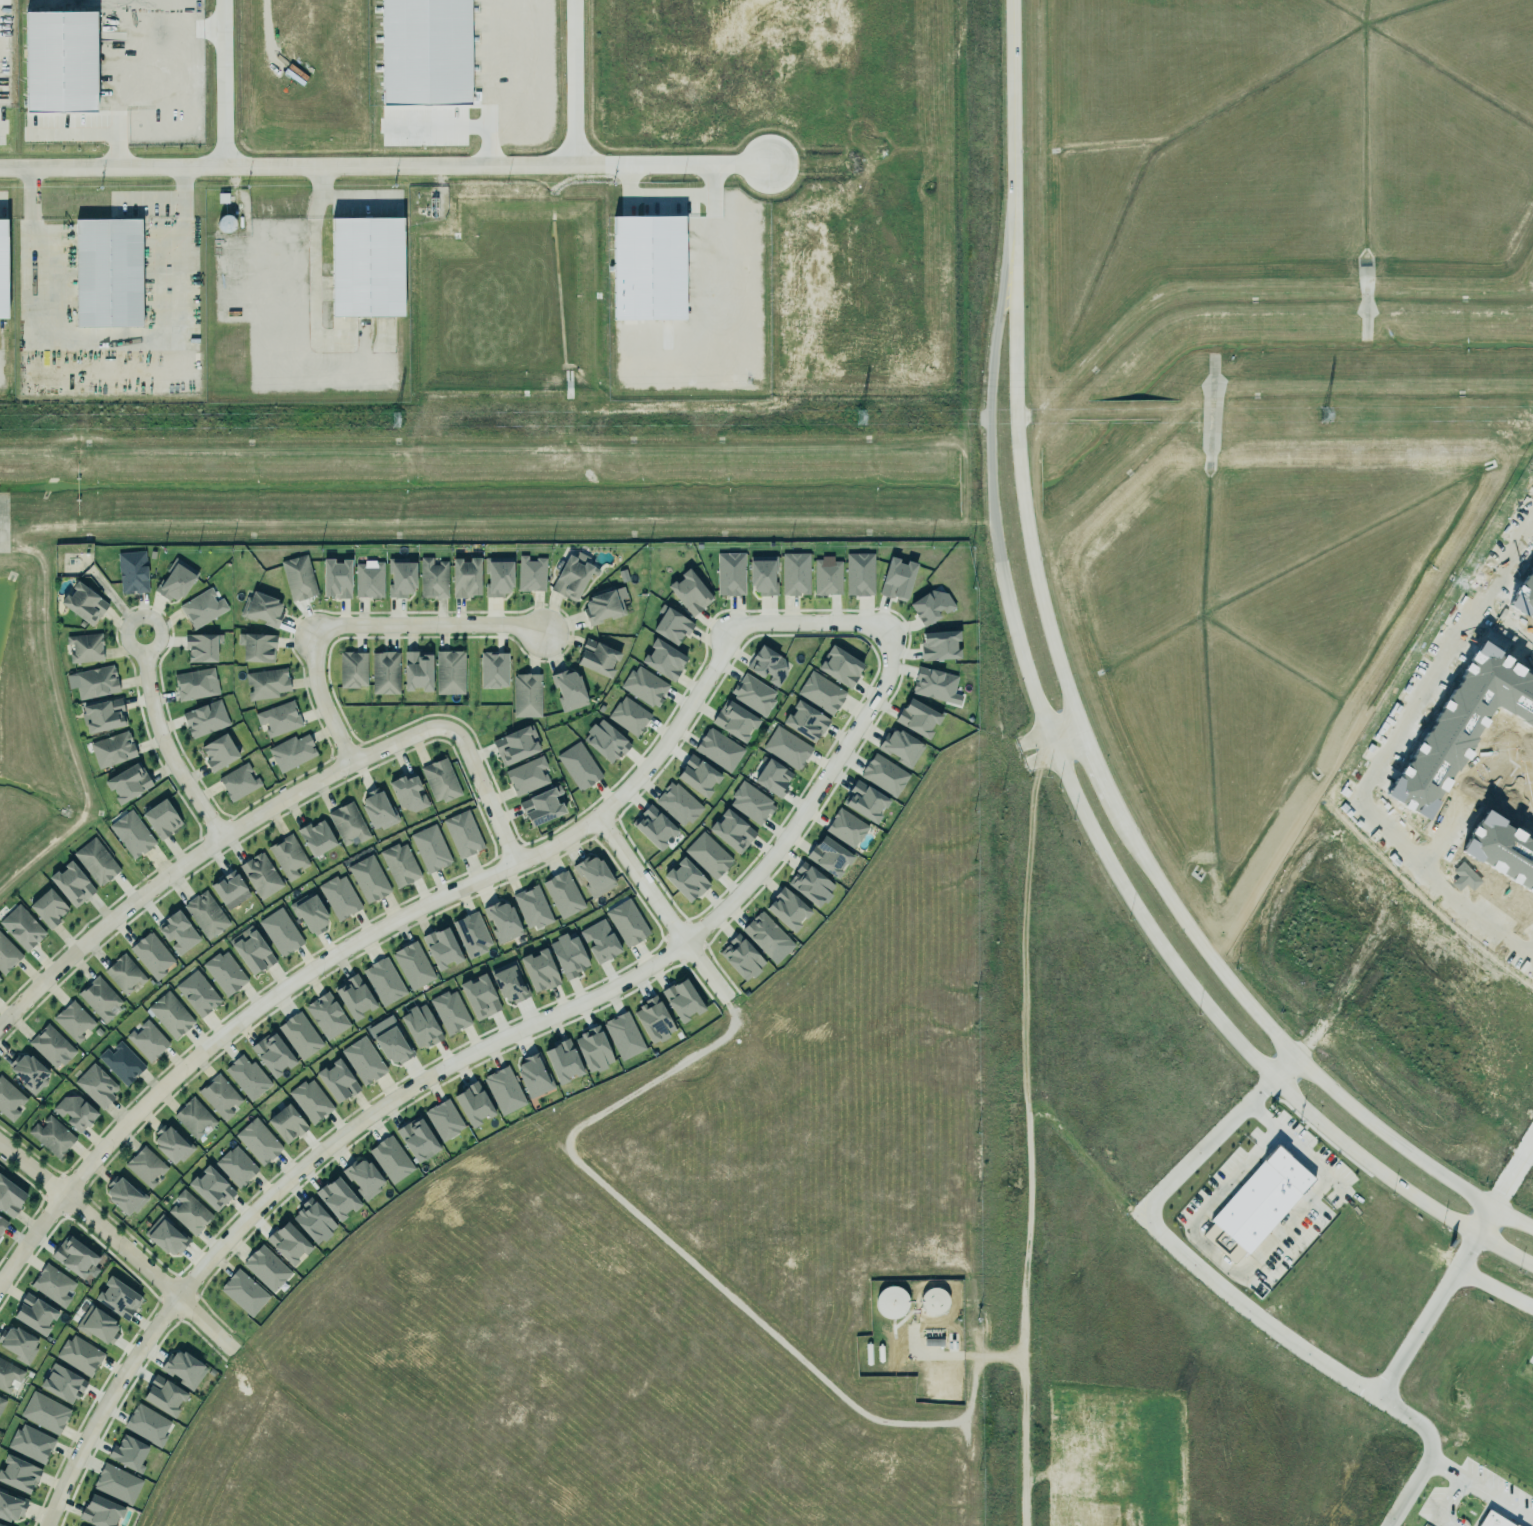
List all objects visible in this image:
building: (4, 2)
building: (426, 49)
building: (61, 54)
road: (107, 68)
road: (576, 82)
road: (216, 83)
road: (1011, 99)
road: (455, 125)
road: (1, 127)
road: (83, 132)
road: (346, 165)
road: (313, 248)
building: (3, 260)
building: (648, 260)
building: (365, 265)
building: (108, 273)
power tower: (1322, 416)
power tower: (857, 417)
power tower: (393, 420)
building: (130, 570)
building: (858, 571)
building: (529, 573)
building: (728, 573)
building: (795, 574)
building: (496, 575)
building: (897, 575)
building: (399, 576)
building: (572, 576)
building: (297, 577)
building: (335, 577)
building: (432, 577)
building: (464, 577)
building: (762, 577)
building: (827, 578)
building: (174, 579)
building: (369, 579)
building: (688, 591)
building: (82, 603)
building: (930, 603)
building: (603, 605)
building: (200, 607)
building: (260, 608)
road: (815, 623)
building: (670, 624)
road: (355, 625)
building: (939, 645)
building: (83, 646)
building: (200, 646)
building: (257, 647)
building: (595, 657)
building: (661, 658)
building: (766, 664)
building: (840, 666)
building: (351, 668)
building: (492, 669)
building: (417, 671)
building: (448, 671)
building: (383, 672)
building: (91, 681)
building: (196, 684)
building: (266, 684)
building: (643, 685)
building: (936, 685)
building: (567, 689)
building: (821, 692)
building: (753, 693)
building: (525, 694)
building: (101, 714)
building: (627, 715)
building: (203, 717)
building: (277, 717)
building: (734, 718)
building: (918, 718)
building: (805, 721)
road: (1065, 735)
building: (603, 740)
road: (162, 742)
building: (516, 745)
building: (900, 747)
building: (110, 748)
building: (787, 748)
building: (719, 749)
building: (217, 751)
building: (290, 751)
building: (577, 765)
building: (884, 773)
building: (695, 774)
building: (772, 775)
building: (1424, 775)
building: (527, 776)
road: (1367, 777)
building: (439, 779)
building: (237, 781)
building: (126, 782)
building: (406, 792)
road: (1111, 796)
building: (866, 799)
building: (677, 802)
building: (751, 803)
road: (270, 806)
building: (539, 806)
building: (377, 809)
building: (161, 819)
road: (1086, 821)
building: (346, 823)
building: (652, 825)
building: (846, 826)
building: (732, 831)
building: (461, 833)
building: (132, 834)
building: (312, 836)
building: (430, 848)
building: (708, 855)
building: (288, 857)
building: (829, 857)
building: (96, 861)
building: (400, 864)
building: (261, 875)
building: (592, 875)
building: (685, 876)
building: (368, 878)
building: (72, 884)
building: (810, 884)
building: (226, 886)
building: (561, 893)
building: (337, 896)
building: (530, 906)
building: (43, 907)
road: (661, 907)
building: (787, 909)
building: (204, 913)
building: (308, 913)
building: (502, 921)
building: (627, 923)
building: (18, 927)
building: (176, 931)
building: (279, 931)
building: (470, 933)
road: (362, 937)
building: (767, 937)
building: (598, 940)
building: (441, 948)
building: (251, 951)
building: (6, 954)
building: (149, 954)
building: (569, 955)
building: (741, 958)
building: (412, 964)
building: (540, 971)
building: (223, 972)
building: (122, 973)
building: (384, 981)
building: (509, 983)
building: (198, 993)
building: (479, 996)
building: (98, 997)
building: (353, 997)
building: (682, 1000)
building: (448, 1011)
building: (170, 1015)
building: (325, 1015)
building: (72, 1020)
building: (653, 1020)
building: (419, 1026)
building: (298, 1035)
building: (624, 1036)
building: (145, 1040)
building: (391, 1044)
building: (50, 1045)
building: (592, 1049)
building: (270, 1054)
road: (461, 1055)
building: (364, 1060)
building: (561, 1060)
building: (120, 1062)
road: (1284, 1068)
building: (27, 1072)
building: (533, 1076)
building: (246, 1077)
building: (337, 1081)
building: (95, 1085)
building: (504, 1090)
building: (220, 1097)
building: (10, 1099)
building: (311, 1100)
building: (472, 1103)
building: (73, 1111)
building: (192, 1117)
building: (444, 1119)
building: (287, 1124)
building: (52, 1136)
building: (417, 1139)
building: (257, 1140)
building: (171, 1145)
building: (389, 1159)
building: (234, 1165)
building: (144, 1166)
road: (1513, 1175)
building: (363, 1178)
building: (210, 1188)
building: (123, 1195)
building: (9, 1197)
building: (336, 1198)
building: (1256, 1205)
building: (189, 1213)
building: (313, 1222)
road: (1485, 1222)
building: (2, 1223)
building: (162, 1236)
road: (117, 1242)
building: (288, 1243)
road: (1183, 1254)
building: (72, 1256)
road: (1252, 1262)
building: (265, 1268)
building: (53, 1285)
road: (1495, 1287)
building: (244, 1292)
building: (115, 1300)
building: (891, 1302)
building: (33, 1314)
building: (94, 1325)
building: (14, 1339)
building: (79, 1357)
building: (179, 1366)
building: (8, 1374)
building: (59, 1384)
road: (1380, 1386)
building: (161, 1394)
building: (1, 1402)
building: (44, 1414)
building: (145, 1422)
building: (29, 1444)
building: (127, 1453)
road: (1447, 1465)
building: (15, 1475)
building: (113, 1483)
road: (1447, 1500)
road: (1499, 1500)
building: (9, 1506)
building: (98, 1512)
building: (1492, 1520)
building: (1, 1525)
building: (78, 1525)

